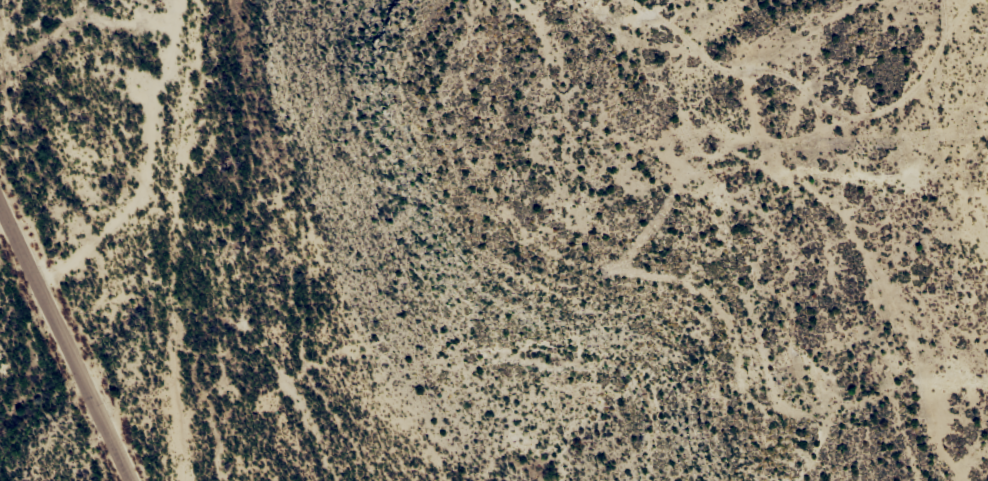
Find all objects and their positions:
road: (65, 343)

